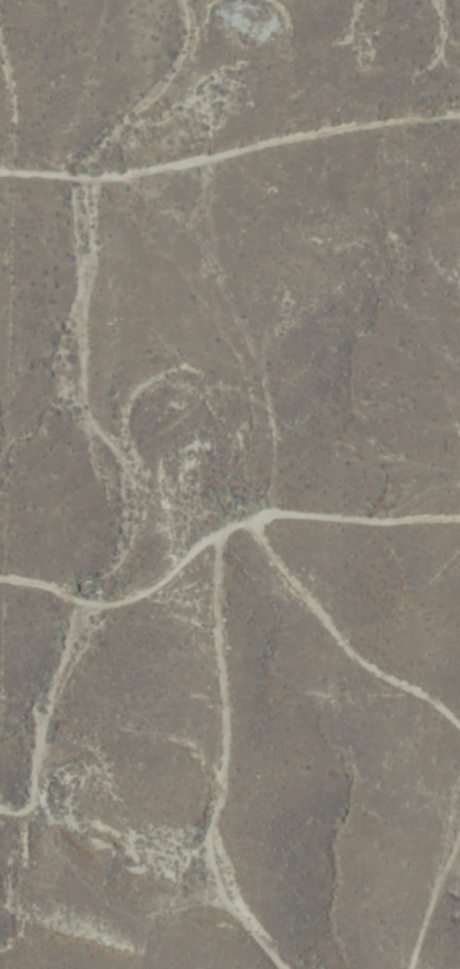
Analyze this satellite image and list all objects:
road: (232, 182)
road: (230, 552)

